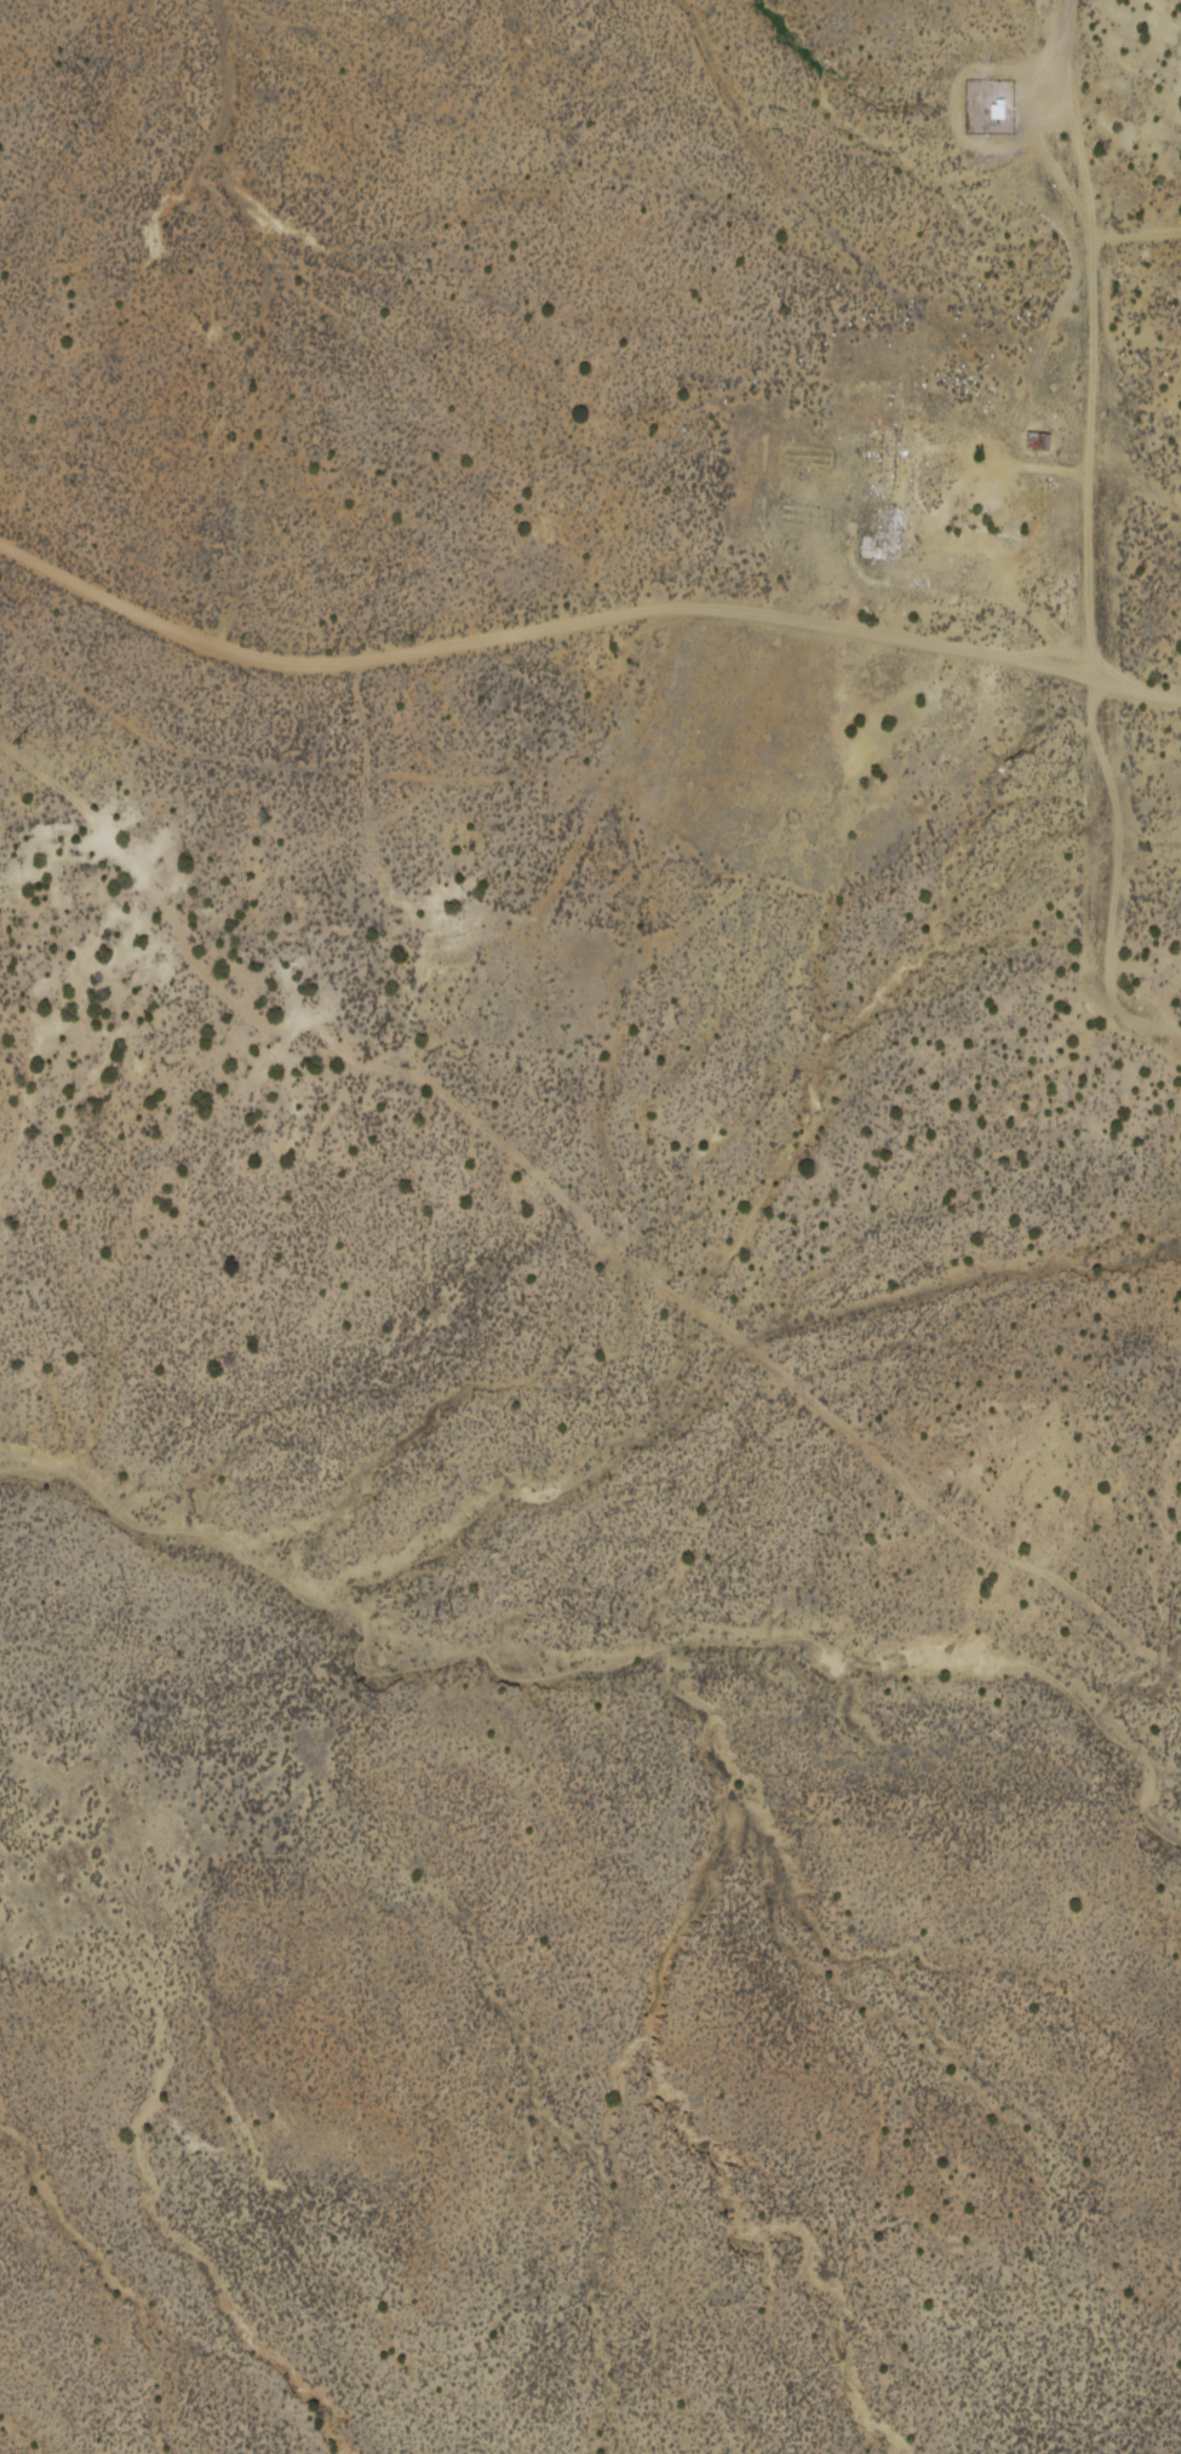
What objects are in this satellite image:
building: (992, 103)
road: (1027, 383)
building: (1038, 440)
road: (1099, 453)
road: (572, 625)
road: (1170, 700)
power tower: (15, 742)
power tower: (377, 1037)
power tower: (946, 1498)

